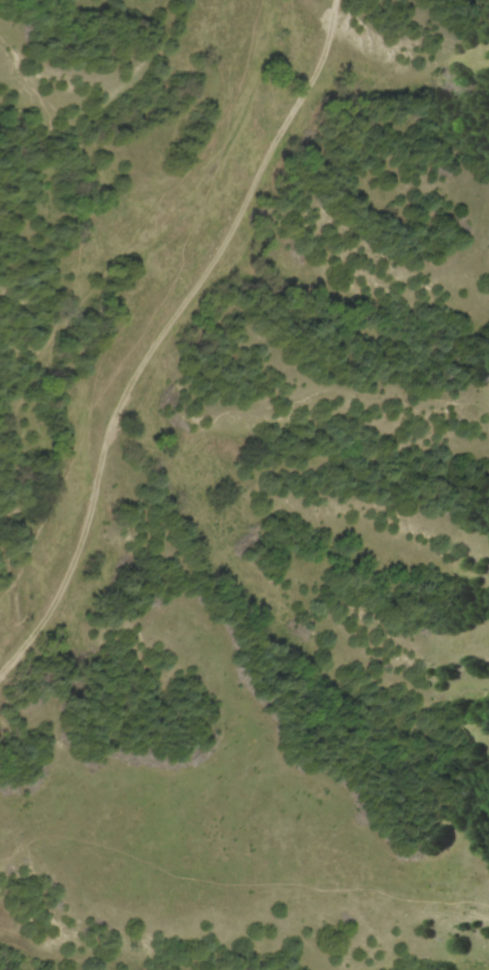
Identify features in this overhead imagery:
road: (161, 333)

